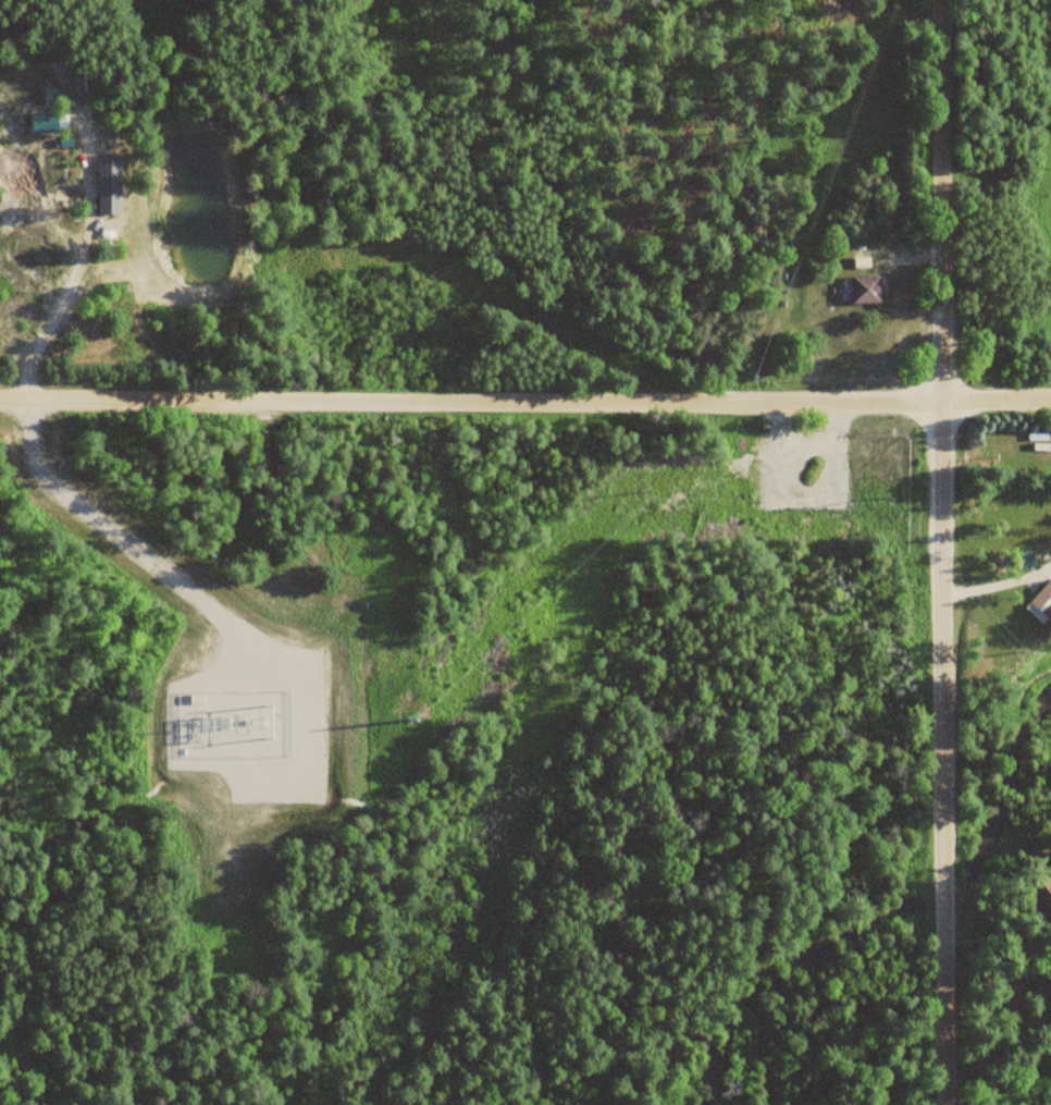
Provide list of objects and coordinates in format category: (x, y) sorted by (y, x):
building: (82, 87)
road: (79, 263)
building: (865, 290)
road: (525, 400)
power tower: (639, 493)
road: (118, 537)
road: (940, 552)
road: (996, 584)
building: (1042, 602)
power tower: (391, 721)
power substation: (237, 723)
river: (1005, 783)
river: (945, 885)
building: (1040, 894)
river: (786, 970)
building: (1041, 991)

